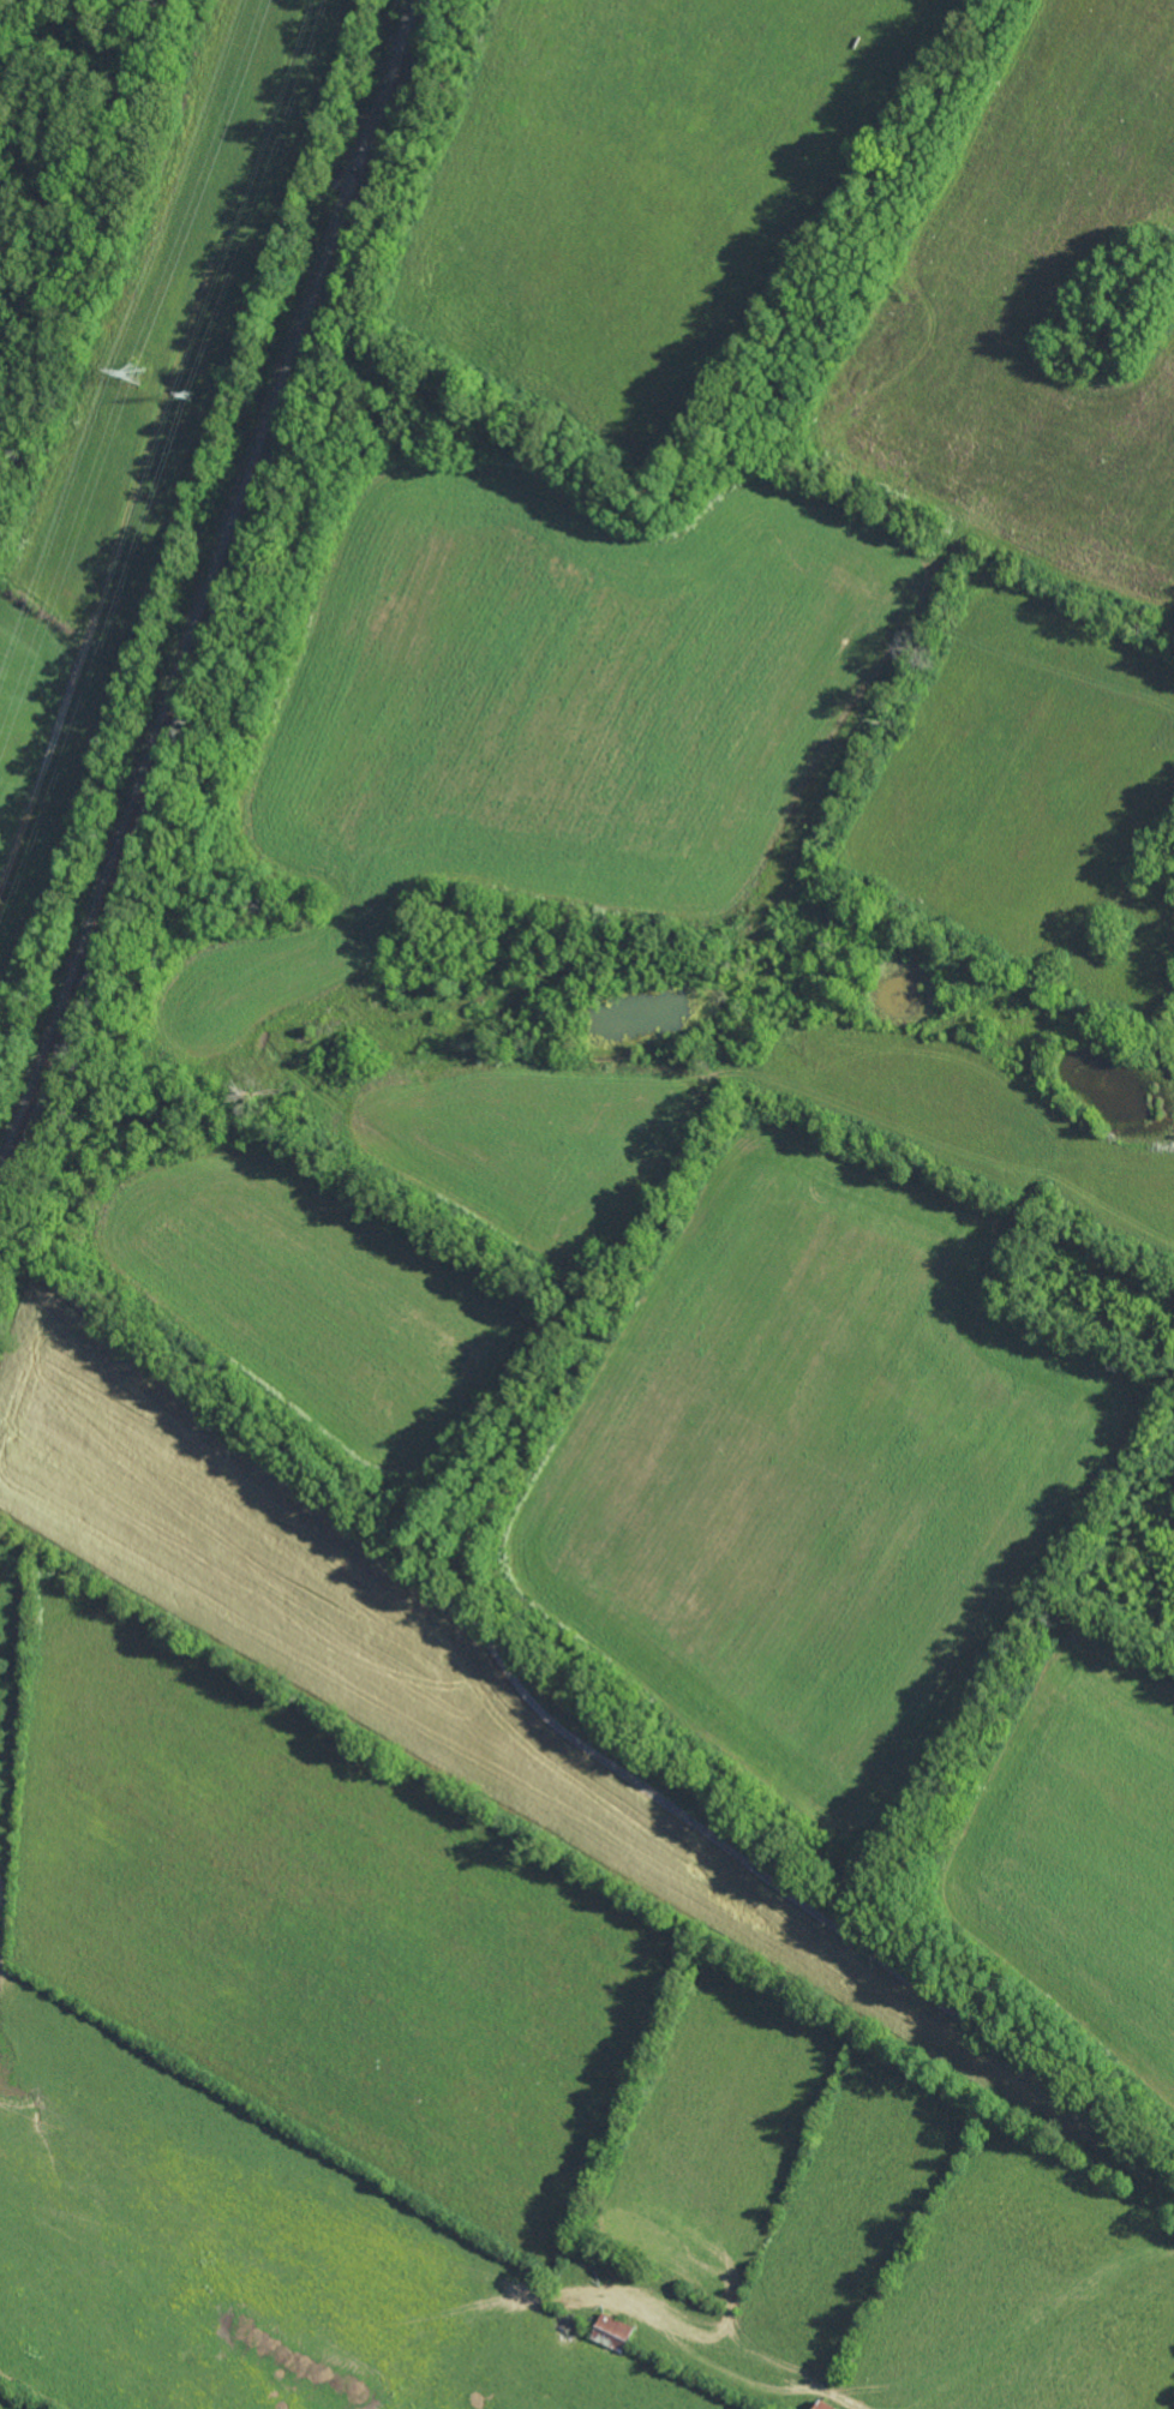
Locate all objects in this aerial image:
power tower: (136, 376)
power tower: (188, 400)
railway: (211, 598)
road: (563, 1744)
building: (612, 2332)
building: (823, 2405)

